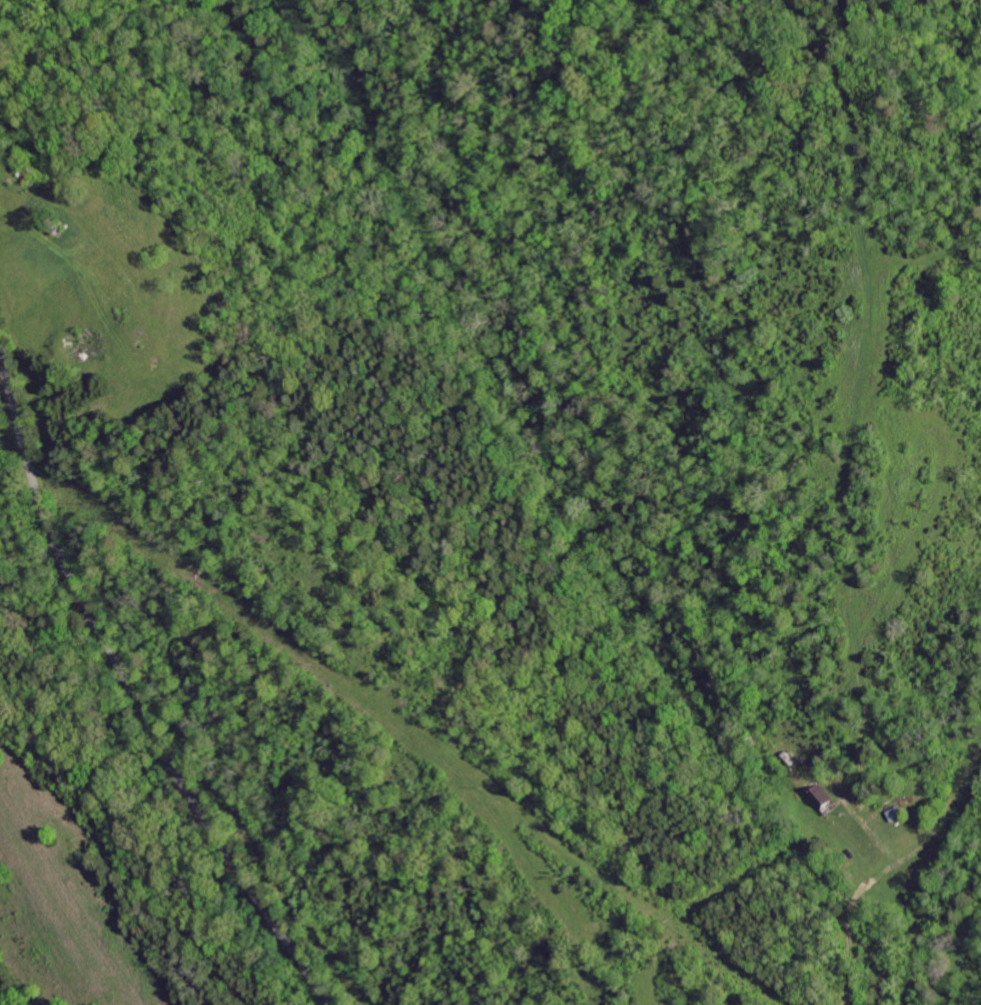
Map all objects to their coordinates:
building: (23, 175)
road: (82, 258)
building: (119, 316)
road: (135, 694)
building: (818, 795)
building: (892, 814)
road: (845, 932)

